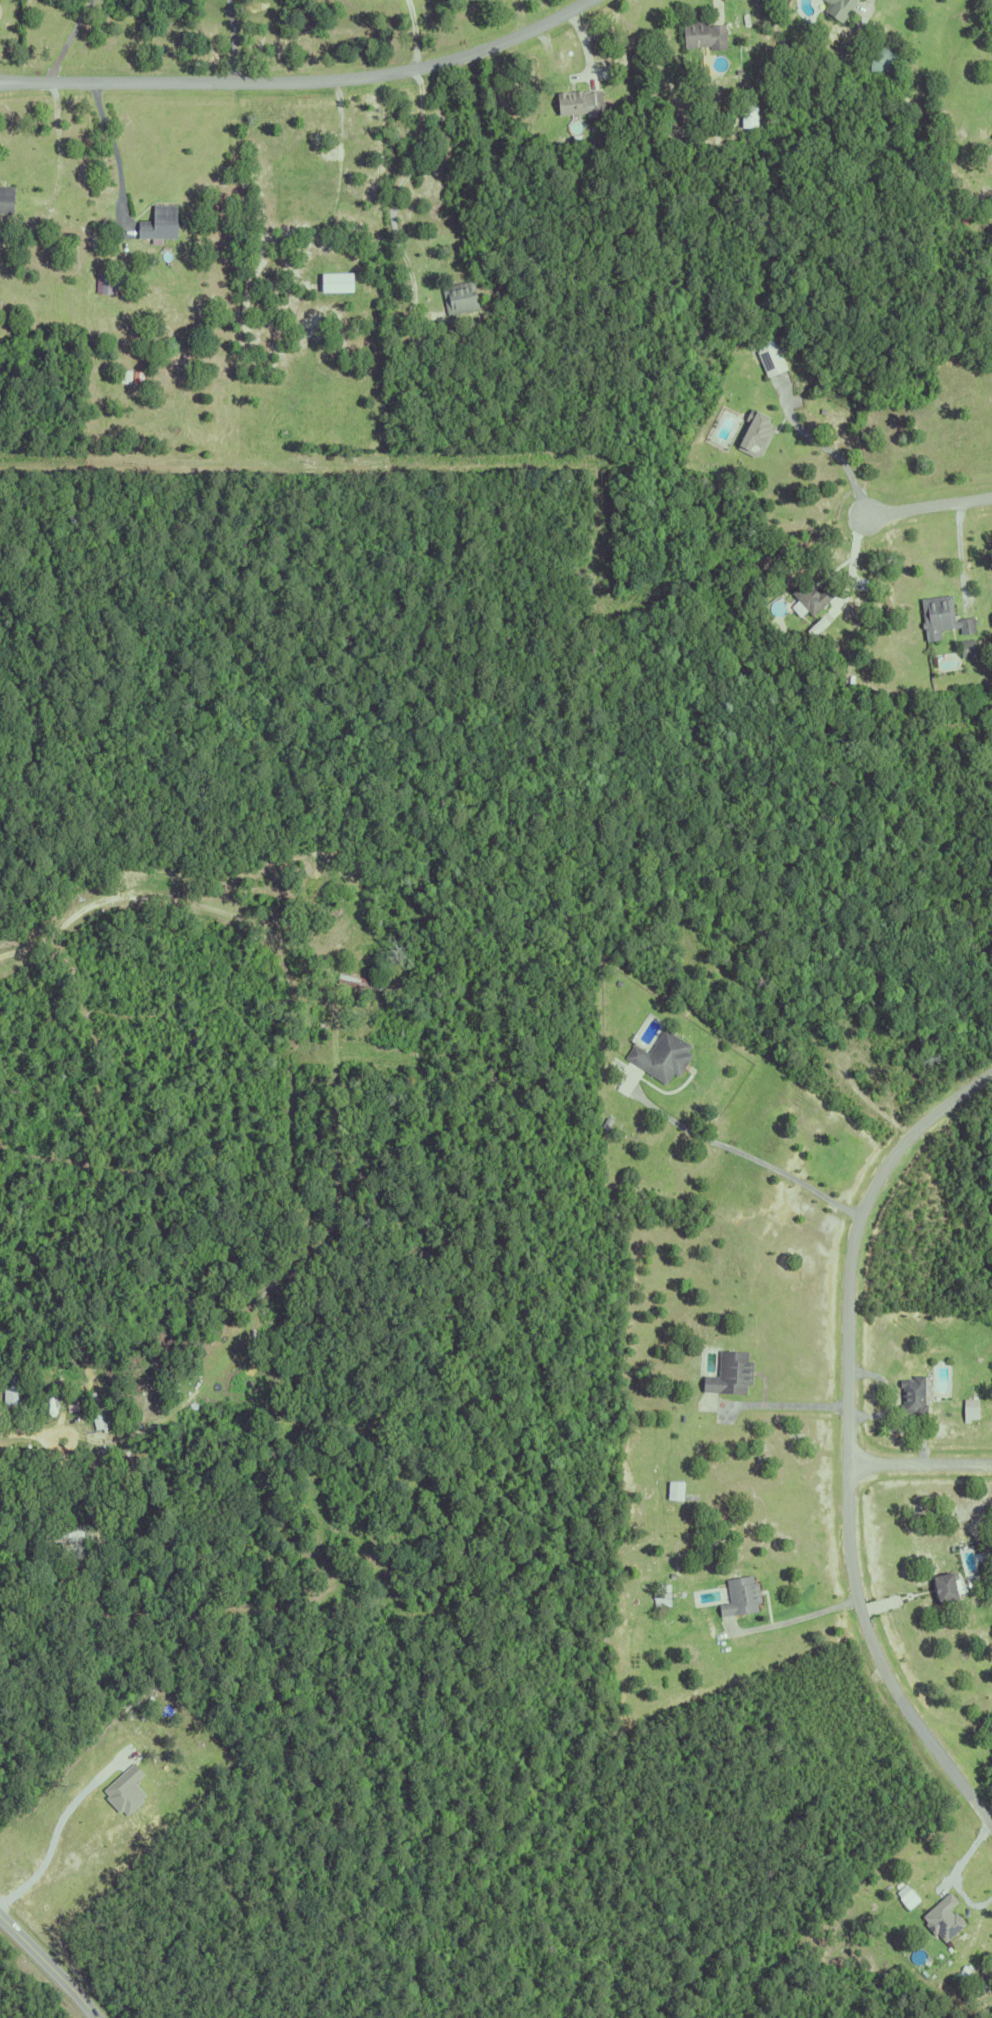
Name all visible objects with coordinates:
road: (867, 4)
building: (837, 6)
building: (740, 18)
building: (735, 31)
road: (413, 33)
building: (702, 33)
road: (67, 38)
road: (233, 39)
building: (843, 53)
building: (879, 58)
road: (305, 78)
road: (3, 80)
road: (3, 81)
building: (579, 100)
building: (991, 134)
building: (745, 136)
road: (109, 151)
road: (402, 181)
building: (5, 198)
building: (964, 217)
building: (158, 221)
building: (102, 270)
building: (344, 283)
building: (458, 296)
building: (771, 361)
building: (124, 375)
building: (753, 434)
road: (834, 451)
road: (931, 506)
road: (960, 556)
road: (852, 559)
building: (810, 595)
building: (940, 616)
building: (817, 640)
building: (966, 645)
building: (788, 653)
road: (134, 899)
building: (298, 961)
building: (358, 982)
building: (658, 1057)
road: (746, 1156)
building: (728, 1374)
building: (58, 1380)
building: (10, 1389)
building: (911, 1396)
road: (776, 1401)
building: (967, 1409)
building: (96, 1412)
road: (34, 1432)
road: (848, 1443)
road: (920, 1466)
building: (674, 1487)
building: (47, 1496)
building: (37, 1500)
building: (65, 1545)
building: (175, 1550)
building: (945, 1580)
building: (738, 1593)
building: (660, 1600)
road: (809, 1611)
building: (123, 1791)
road: (55, 1830)
road: (955, 1872)
building: (907, 1895)
building: (941, 1914)
road: (49, 1966)

